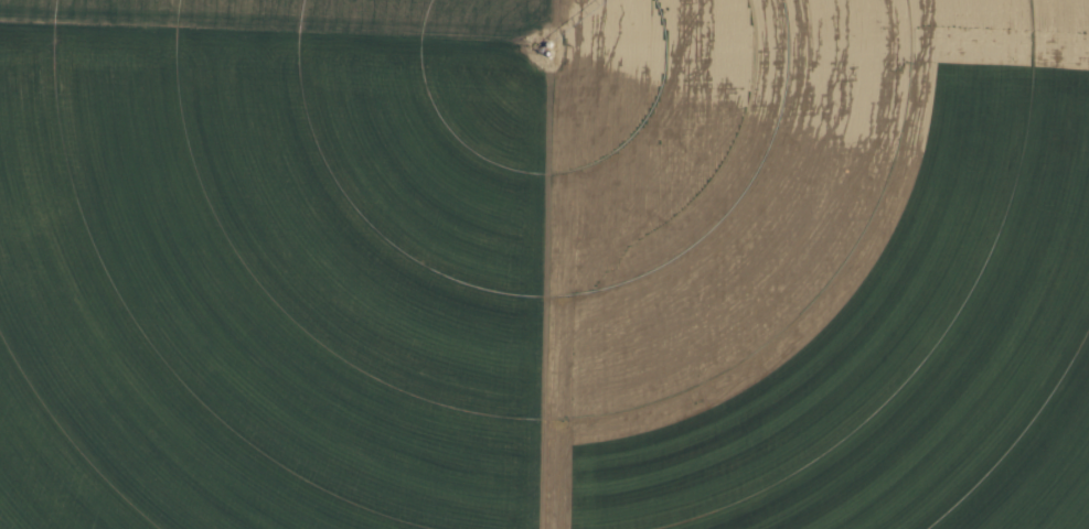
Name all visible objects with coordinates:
crop: (544, 264)

